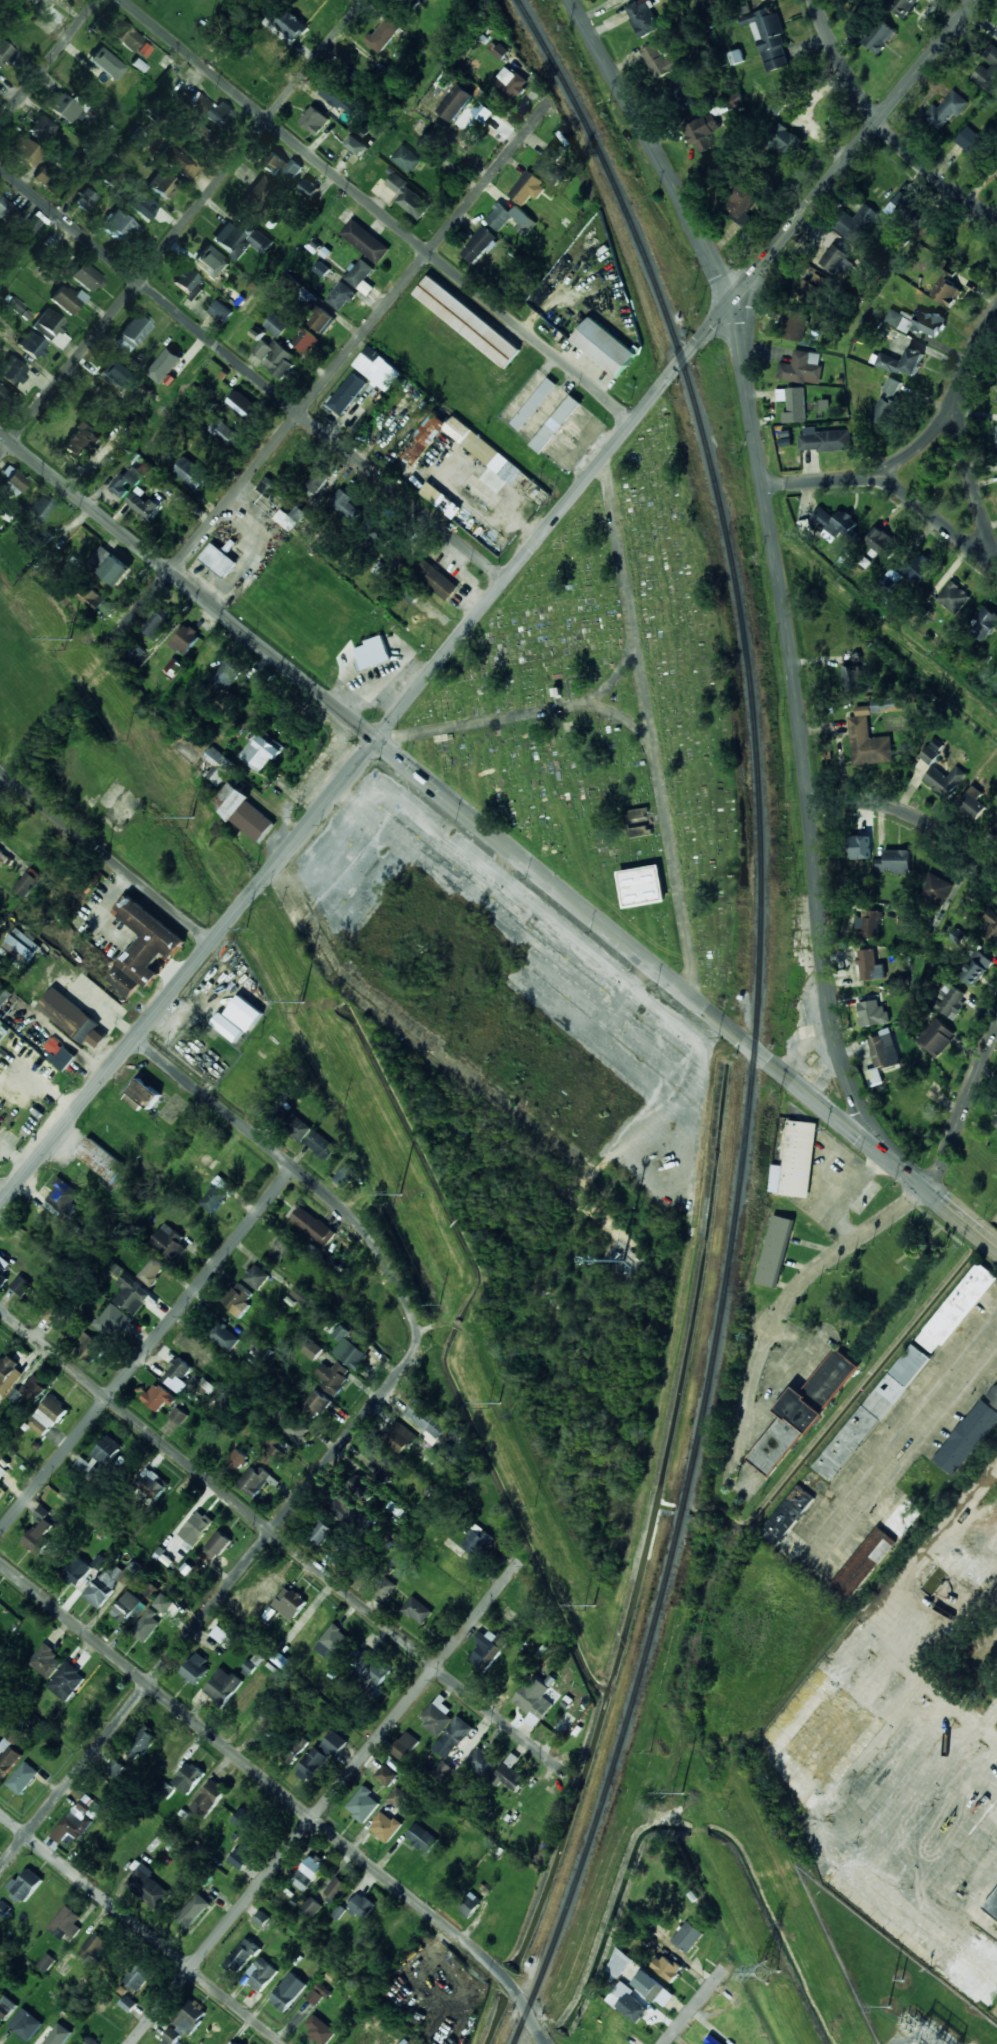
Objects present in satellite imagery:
building: (902, 6)
building: (642, 18)
building: (287, 24)
building: (995, 32)
building: (383, 34)
building: (124, 35)
building: (768, 37)
building: (879, 37)
building: (142, 51)
building: (4, 52)
building: (736, 57)
road: (49, 62)
building: (106, 64)
building: (987, 70)
building: (511, 82)
building: (684, 97)
building: (735, 100)
building: (348, 102)
building: (456, 103)
building: (777, 106)
building: (482, 111)
building: (945, 111)
building: (210, 112)
building: (315, 120)
road: (884, 127)
building: (44, 130)
building: (702, 132)
building: (784, 139)
building: (970, 140)
building: (358, 145)
road: (652, 149)
building: (25, 151)
road: (853, 151)
building: (407, 158)
building: (995, 161)
building: (179, 164)
building: (281, 166)
building: (550, 166)
building: (44, 176)
building: (162, 185)
building: (309, 188)
building: (527, 188)
building: (258, 192)
building: (410, 197)
building: (86, 199)
building: (741, 203)
building: (145, 207)
building: (6, 210)
road: (377, 210)
building: (510, 218)
building: (855, 223)
building: (29, 227)
building: (119, 227)
road: (183, 227)
building: (241, 240)
building: (365, 241)
building: (478, 245)
building: (925, 254)
building: (839, 261)
building: (205, 262)
building: (359, 272)
building: (85, 276)
building: (189, 284)
building: (812, 289)
building: (947, 292)
building: (234, 296)
building: (341, 296)
building: (67, 300)
building: (15, 305)
building: (221, 311)
building: (321, 320)
building: (467, 321)
building: (916, 321)
building: (276, 324)
building: (795, 325)
building: (51, 328)
building: (133, 333)
building: (306, 341)
building: (32, 345)
building: (604, 346)
building: (275, 357)
building: (902, 362)
building: (165, 365)
building: (802, 367)
building: (377, 368)
building: (12, 371)
building: (112, 373)
road: (253, 374)
building: (892, 386)
building: (2, 392)
road: (315, 393)
building: (347, 394)
building: (996, 401)
building: (534, 403)
building: (793, 404)
building: (243, 406)
building: (882, 411)
building: (556, 423)
building: (223, 431)
building: (996, 432)
building: (825, 440)
building: (79, 441)
road: (918, 448)
building: (471, 451)
building: (191, 473)
road: (971, 479)
building: (127, 481)
building: (315, 481)
building: (11, 482)
building: (269, 486)
building: (441, 500)
building: (143, 503)
building: (347, 507)
building: (39, 509)
building: (825, 516)
building: (291, 517)
road: (938, 519)
building: (842, 524)
building: (45, 536)
building: (881, 542)
building: (101, 558)
building: (218, 560)
building: (919, 567)
building: (116, 571)
building: (436, 580)
building: (953, 597)
building: (97, 601)
building: (159, 622)
building: (985, 622)
power tower: (69, 638)
building: (185, 639)
building: (133, 651)
building: (373, 653)
building: (173, 667)
building: (851, 669)
building: (226, 675)
road: (609, 687)
building: (887, 704)
park: (611, 714)
road: (620, 716)
road: (802, 733)
traffic signals: (377, 740)
building: (868, 741)
building: (260, 750)
building: (931, 752)
road: (365, 753)
building: (219, 766)
road: (2, 775)
building: (945, 780)
road: (443, 794)
building: (972, 802)
building: (243, 812)
road: (666, 816)
power tower: (192, 817)
road: (901, 819)
building: (994, 829)
building: (996, 841)
building: (860, 847)
building: (1, 851)
road: (105, 856)
building: (895, 862)
building: (28, 882)
building: (642, 886)
building: (935, 890)
building: (904, 919)
building: (869, 923)
building: (991, 925)
building: (958, 936)
building: (21, 946)
building: (144, 947)
building: (870, 965)
building: (975, 968)
building: (4, 994)
power tower: (302, 1003)
building: (951, 1003)
building: (245, 1013)
building: (872, 1013)
railway: (757, 1016)
building: (72, 1018)
building: (228, 1027)
building: (937, 1037)
building: (884, 1051)
building: (63, 1058)
building: (142, 1095)
road: (964, 1115)
building: (995, 1121)
building: (0, 1126)
building: (298, 1128)
building: (321, 1144)
building: (101, 1160)
building: (796, 1161)
road: (299, 1171)
building: (346, 1174)
road: (3, 1192)
power tower: (401, 1194)
building: (218, 1195)
building: (64, 1196)
road: (938, 1207)
building: (313, 1226)
building: (169, 1242)
building: (775, 1251)
building: (152, 1270)
building: (3, 1271)
building: (257, 1277)
building: (20, 1284)
road: (786, 1290)
building: (133, 1294)
building: (300, 1294)
building: (238, 1299)
building: (957, 1308)
building: (54, 1312)
building: (113, 1321)
building: (223, 1336)
building: (258, 1346)
building: (351, 1346)
building: (90, 1347)
road: (147, 1349)
building: (195, 1350)
building: (313, 1350)
building: (9, 1374)
building: (178, 1375)
building: (334, 1377)
building: (29, 1387)
building: (993, 1396)
building: (159, 1397)
power tower: (499, 1403)
building: (315, 1404)
building: (872, 1412)
building: (801, 1413)
building: (48, 1415)
building: (179, 1415)
building: (427, 1418)
building: (400, 1437)
building: (967, 1437)
building: (108, 1449)
road: (899, 1450)
building: (274, 1452)
building: (2, 1472)
building: (386, 1473)
building: (254, 1481)
building: (151, 1483)
building: (363, 1488)
building: (0, 1490)
building: (1, 1500)
building: (348, 1512)
building: (788, 1514)
building: (901, 1516)
building: (196, 1527)
building: (39, 1532)
building: (321, 1533)
building: (477, 1540)
road: (283, 1542)
building: (217, 1545)
building: (991, 1557)
building: (864, 1562)
building: (77, 1570)
building: (932, 1578)
building: (111, 1582)
building: (385, 1586)
building: (267, 1592)
building: (958, 1597)
building: (164, 1603)
building: (289, 1603)
power tower: (594, 1605)
road: (211, 1606)
building: (129, 1607)
building: (417, 1610)
building: (246, 1612)
building: (146, 1626)
building: (220, 1634)
building: (334, 1644)
building: (488, 1650)
building: (46, 1661)
building: (196, 1667)
building: (370, 1669)
building: (67, 1681)
building: (222, 1686)
building: (534, 1700)
building: (991, 1708)
building: (437, 1716)
building: (453, 1737)
building: (143, 1742)
building: (405, 1745)
building: (295, 1749)
building: (9, 1752)
building: (320, 1756)
building: (482, 1761)
building: (114, 1768)
building: (442, 1770)
building: (509, 1773)
building: (386, 1775)
building: (23, 1778)
building: (188, 1778)
road: (268, 1783)
power tower: (683, 1792)
building: (397, 1797)
building: (208, 1799)
road: (325, 1802)
building: (363, 1804)
building: (79, 1818)
building: (385, 1826)
building: (423, 1838)
building: (308, 1872)
building: (24, 1885)
building: (149, 1887)
building: (336, 1890)
building: (470, 1904)
building: (361, 1906)
building: (992, 1906)
building: (311, 1907)
building: (5, 1908)
building: (194, 1910)
building: (262, 1919)
building: (67, 1923)
road: (140, 1928)
building: (688, 1936)
building: (93, 1947)
building: (242, 1956)
building: (47, 1962)
building: (619, 1963)
building: (667, 1967)
building: (977, 1970)
power tower: (767, 1973)
building: (260, 1974)
building: (138, 1976)
power substation: (897, 1983)
building: (654, 1988)
building: (288, 1991)
building: (319, 1994)
building: (627, 2002)
building: (128, 2003)
road: (696, 2004)
building: (6, 2007)
building: (190, 2016)
building: (26, 2024)
road: (539, 2028)
building: (320, 2029)
building: (59, 2035)
building: (170, 2037)
building: (91, 2041)
building: (712, 2041)
building: (236, 2043)

